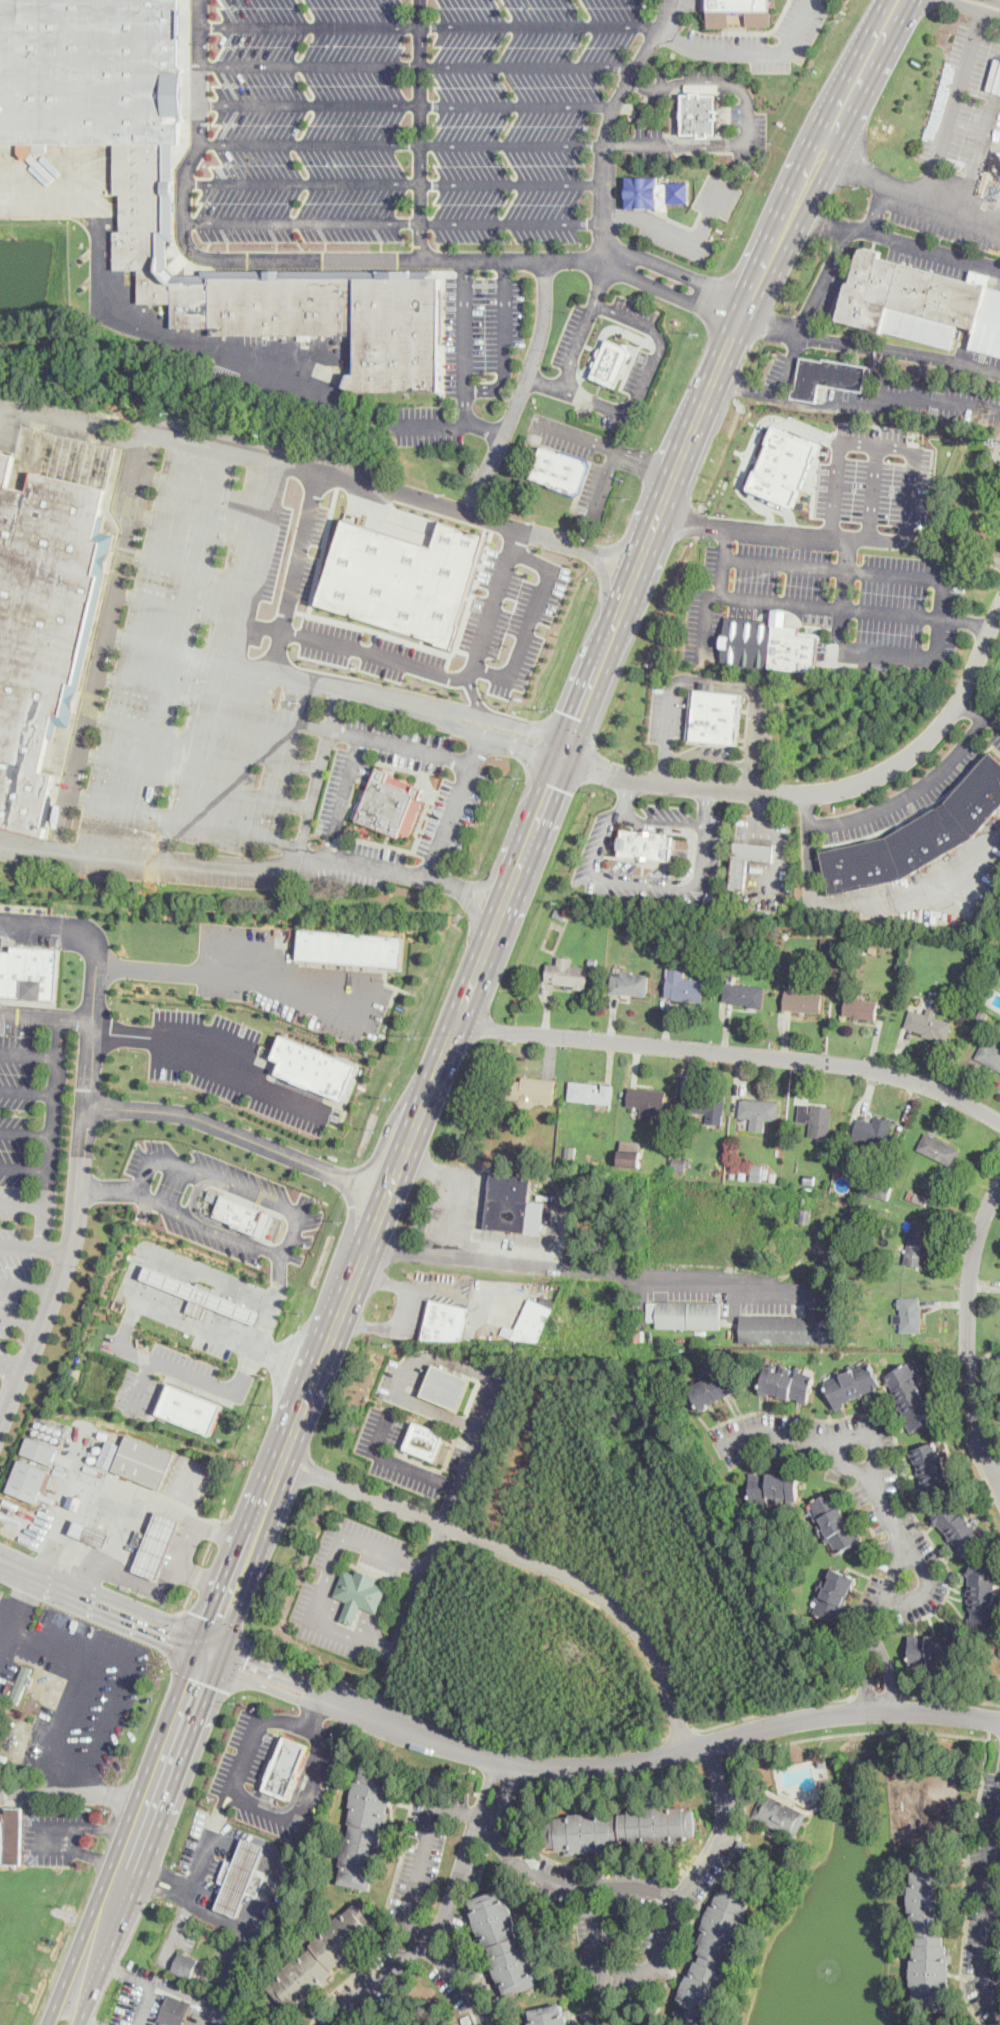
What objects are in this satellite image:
building: (735, 4)
road: (986, 4)
road: (429, 25)
parking lot: (762, 39)
road: (746, 49)
road: (418, 65)
building: (92, 72)
road: (652, 84)
parking lot: (963, 97)
road: (407, 104)
building: (642, 114)
road: (675, 114)
building: (699, 114)
parking lot: (401, 124)
road: (422, 127)
road: (402, 142)
road: (737, 145)
road: (871, 176)
road: (397, 182)
road: (926, 186)
building: (654, 191)
building: (139, 204)
road: (878, 209)
parking lot: (653, 218)
road: (397, 221)
road: (681, 232)
road: (896, 241)
road: (407, 256)
road: (681, 272)
road: (603, 279)
road: (823, 279)
building: (154, 286)
road: (674, 295)
building: (281, 301)
building: (921, 303)
building: (192, 304)
road: (772, 322)
building: (395, 330)
road: (158, 331)
road: (602, 336)
road: (505, 339)
road: (899, 349)
building: (611, 362)
road: (464, 373)
building: (828, 378)
road: (543, 380)
road: (520, 387)
road: (747, 389)
road: (853, 405)
road: (622, 410)
road: (76, 414)
road: (482, 429)
road: (878, 443)
road: (608, 446)
road: (748, 450)
road: (647, 461)
building: (783, 464)
building: (561, 470)
parking lot: (874, 476)
road: (203, 489)
road: (872, 491)
road: (664, 506)
road: (768, 510)
road: (195, 525)
road: (513, 527)
road: (777, 530)
road: (256, 542)
road: (847, 556)
road: (723, 559)
road: (187, 564)
road: (294, 572)
building: (403, 578)
road: (937, 583)
parking lot: (829, 592)
road: (781, 600)
road: (902, 614)
parking lot: (511, 615)
building: (45, 620)
road: (529, 621)
road: (707, 625)
road: (103, 639)
building: (769, 646)
road: (366, 650)
road: (222, 660)
parking lot: (232, 663)
building: (886, 665)
road: (713, 678)
road: (476, 699)
road: (213, 700)
road: (980, 711)
building: (714, 716)
road: (453, 717)
parking lot: (402, 732)
road: (203, 742)
road: (477, 743)
traffic signals: (563, 756)
road: (457, 760)
parking lot: (410, 762)
parking lot: (365, 768)
road: (194, 780)
road: (823, 790)
road: (909, 791)
parking lot: (333, 793)
road: (627, 797)
road: (342, 798)
building: (387, 803)
road: (702, 806)
parking lot: (469, 815)
road: (185, 818)
parking lot: (436, 818)
building: (918, 835)
road: (29, 842)
building: (645, 844)
parking lot: (379, 852)
road: (313, 861)
building: (738, 873)
road: (687, 886)
road: (863, 903)
road: (59, 925)
parking lot: (238, 934)
building: (349, 948)
building: (29, 971)
building: (566, 973)
road: (236, 975)
building: (628, 983)
building: (683, 985)
road: (94, 992)
parking lot: (223, 992)
building: (743, 992)
building: (802, 1000)
parking lot: (281, 1007)
building: (860, 1007)
parking lot: (380, 1012)
road: (30, 1013)
parking lot: (177, 1016)
building: (927, 1023)
parking lot: (237, 1028)
parking lot: (336, 1030)
road: (90, 1045)
road: (734, 1051)
road: (28, 1053)
road: (446, 1053)
building: (990, 1053)
road: (211, 1061)
building: (313, 1066)
road: (27, 1089)
building: (529, 1090)
building: (590, 1091)
parking lot: (239, 1099)
building: (647, 1100)
building: (707, 1104)
building: (757, 1110)
parking lot: (336, 1116)
building: (815, 1118)
building: (872, 1129)
road: (25, 1132)
road: (51, 1132)
road: (382, 1141)
building: (939, 1148)
road: (80, 1151)
building: (630, 1152)
road: (401, 1162)
building: (678, 1164)
road: (24, 1167)
parking lot: (22, 1175)
road: (460, 1187)
building: (875, 1187)
parking lot: (171, 1188)
parking lot: (279, 1190)
road: (123, 1191)
road: (282, 1202)
road: (23, 1203)
building: (513, 1205)
road: (351, 1207)
road: (194, 1208)
building: (243, 1213)
parking lot: (210, 1240)
building: (917, 1242)
road: (35, 1248)
road: (364, 1254)
road: (578, 1266)
road: (281, 1278)
road: (28, 1283)
road: (350, 1289)
gas station: (205, 1295)
building: (206, 1299)
road: (273, 1302)
building: (685, 1313)
building: (908, 1313)
road: (21, 1320)
building: (445, 1320)
building: (532, 1320)
building: (787, 1329)
road: (968, 1334)
road: (299, 1338)
road: (121, 1341)
parking lot: (186, 1360)
road: (12, 1363)
road: (168, 1365)
road: (317, 1369)
parking lot: (419, 1375)
parking lot: (388, 1379)
road: (279, 1382)
building: (786, 1382)
building: (852, 1383)
building: (446, 1385)
building: (714, 1388)
parking lot: (127, 1389)
road: (234, 1394)
building: (910, 1396)
road: (400, 1397)
parking lot: (150, 1399)
parking lot: (479, 1400)
building: (191, 1407)
road: (965, 1435)
road: (871, 1436)
building: (425, 1439)
road: (287, 1443)
building: (39, 1449)
building: (110, 1454)
parking lot: (376, 1455)
building: (142, 1461)
road: (399, 1462)
building: (931, 1466)
building: (28, 1479)
road: (187, 1484)
building: (774, 1487)
road: (126, 1489)
building: (76, 1501)
road: (889, 1511)
building: (835, 1521)
building: (959, 1528)
building: (90, 1533)
parking lot: (376, 1535)
road: (185, 1541)
gas station: (155, 1543)
building: (154, 1545)
parking lot: (326, 1546)
road: (432, 1547)
road: (242, 1554)
road: (384, 1555)
road: (527, 1555)
road: (128, 1576)
road: (88, 1579)
road: (928, 1584)
building: (359, 1593)
building: (835, 1595)
building: (982, 1597)
parking lot: (304, 1601)
road: (103, 1605)
road: (357, 1614)
road: (352, 1636)
parking lot: (333, 1645)
building: (934, 1647)
traffic signals: (208, 1650)
road: (103, 1661)
building: (21, 1684)
road: (876, 1693)
road: (950, 1696)
road: (309, 1709)
road: (772, 1710)
road: (58, 1717)
road: (448, 1727)
road: (864, 1731)
road: (680, 1732)
road: (597, 1764)
building: (285, 1766)
road: (75, 1792)
road: (292, 1799)
building: (779, 1814)
road: (297, 1815)
road: (141, 1821)
building: (365, 1827)
building: (621, 1827)
road: (59, 1832)
building: (13, 1836)
road: (999, 1838)
road: (999, 1848)
road: (196, 1870)
building: (241, 1876)
gas station: (241, 1876)
road: (621, 1883)
road: (701, 1898)
road: (986, 1929)
building: (928, 1931)
road: (428, 1941)
building: (504, 1942)
road: (417, 1948)
building: (712, 1954)
building: (322, 1957)
building: (184, 1964)
road: (623, 1969)
road: (122, 1970)
road: (143, 2005)
road: (60, 2008)
road: (76, 2009)
building: (173, 2011)
building: (550, 2015)
building: (947, 2023)

